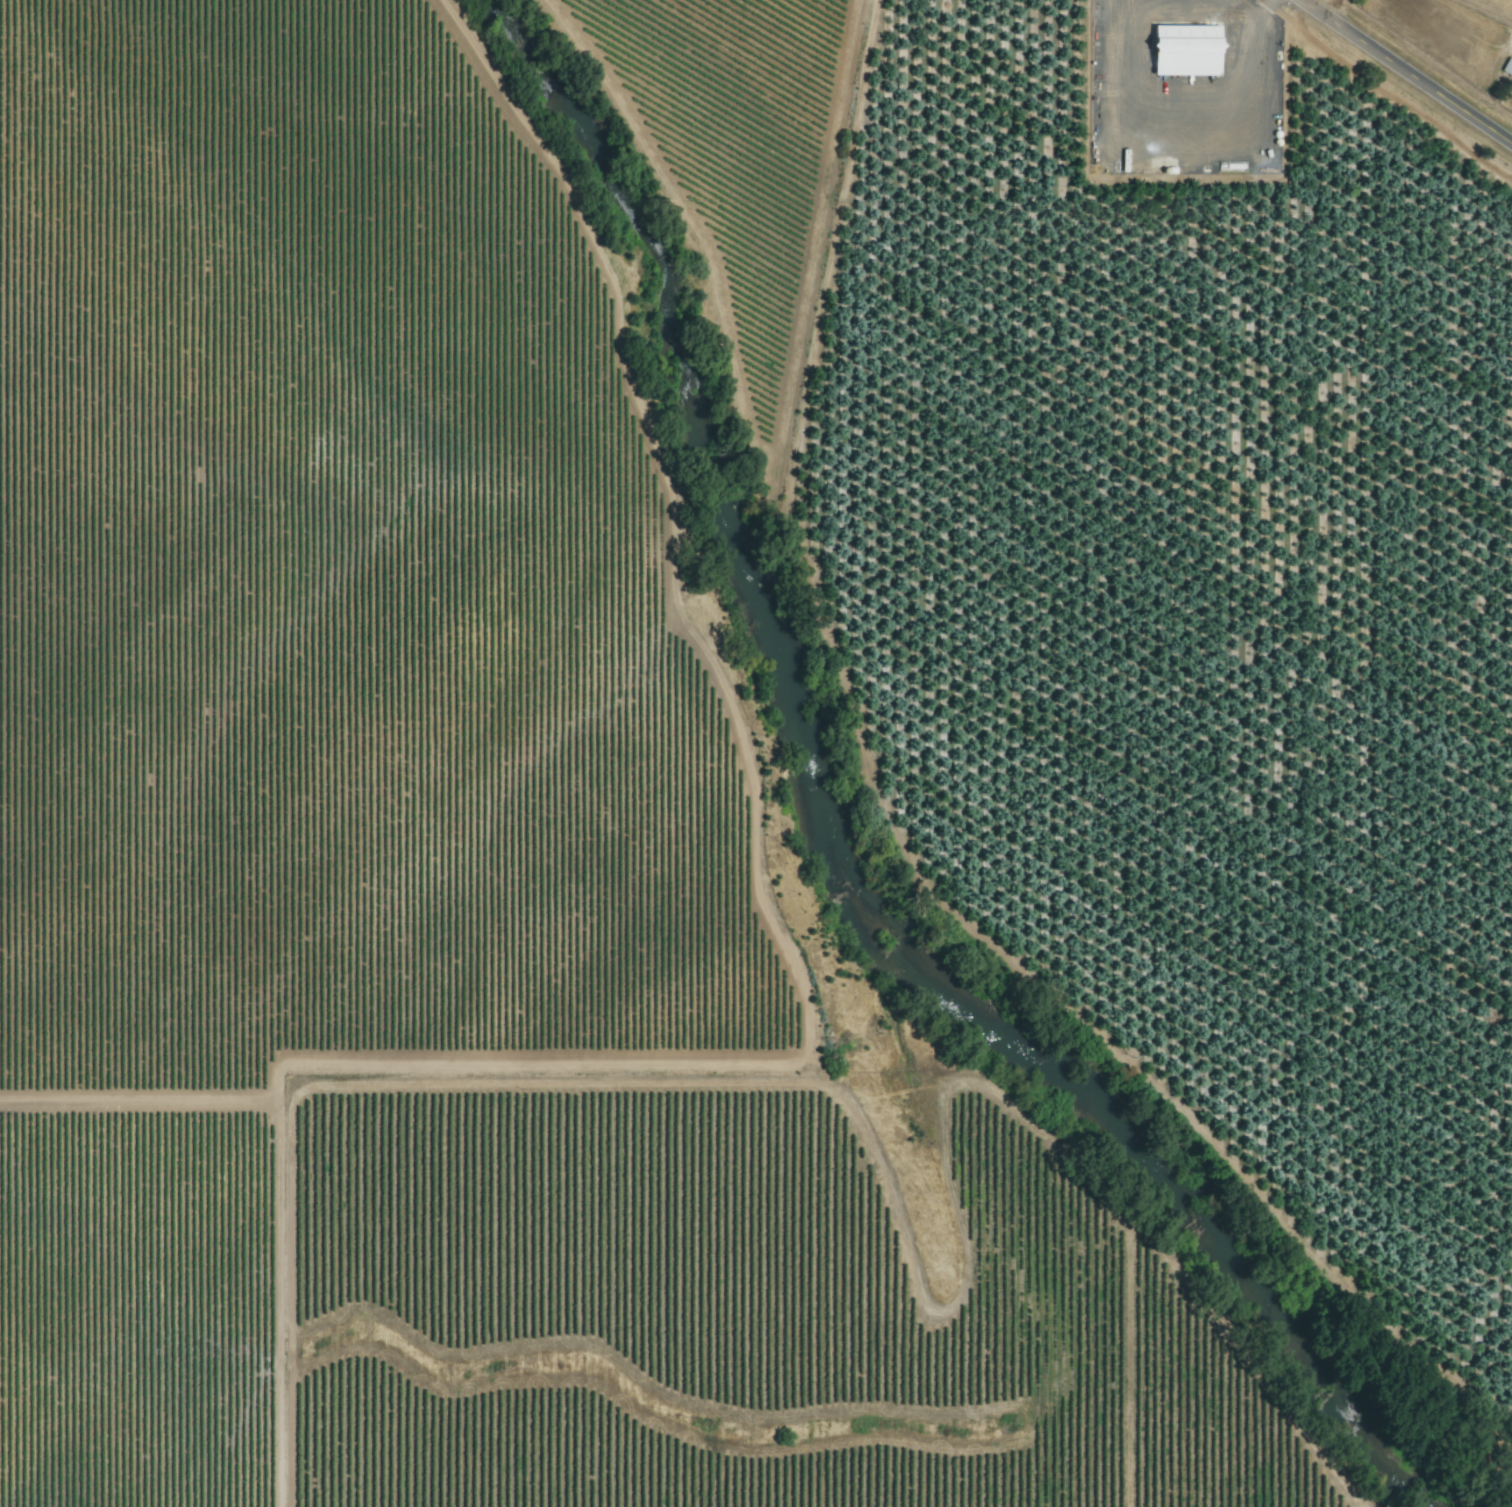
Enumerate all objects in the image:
road: (1243, 17)
building: (1181, 50)
building: (1506, 68)
road: (1405, 72)
road: (1177, 101)

